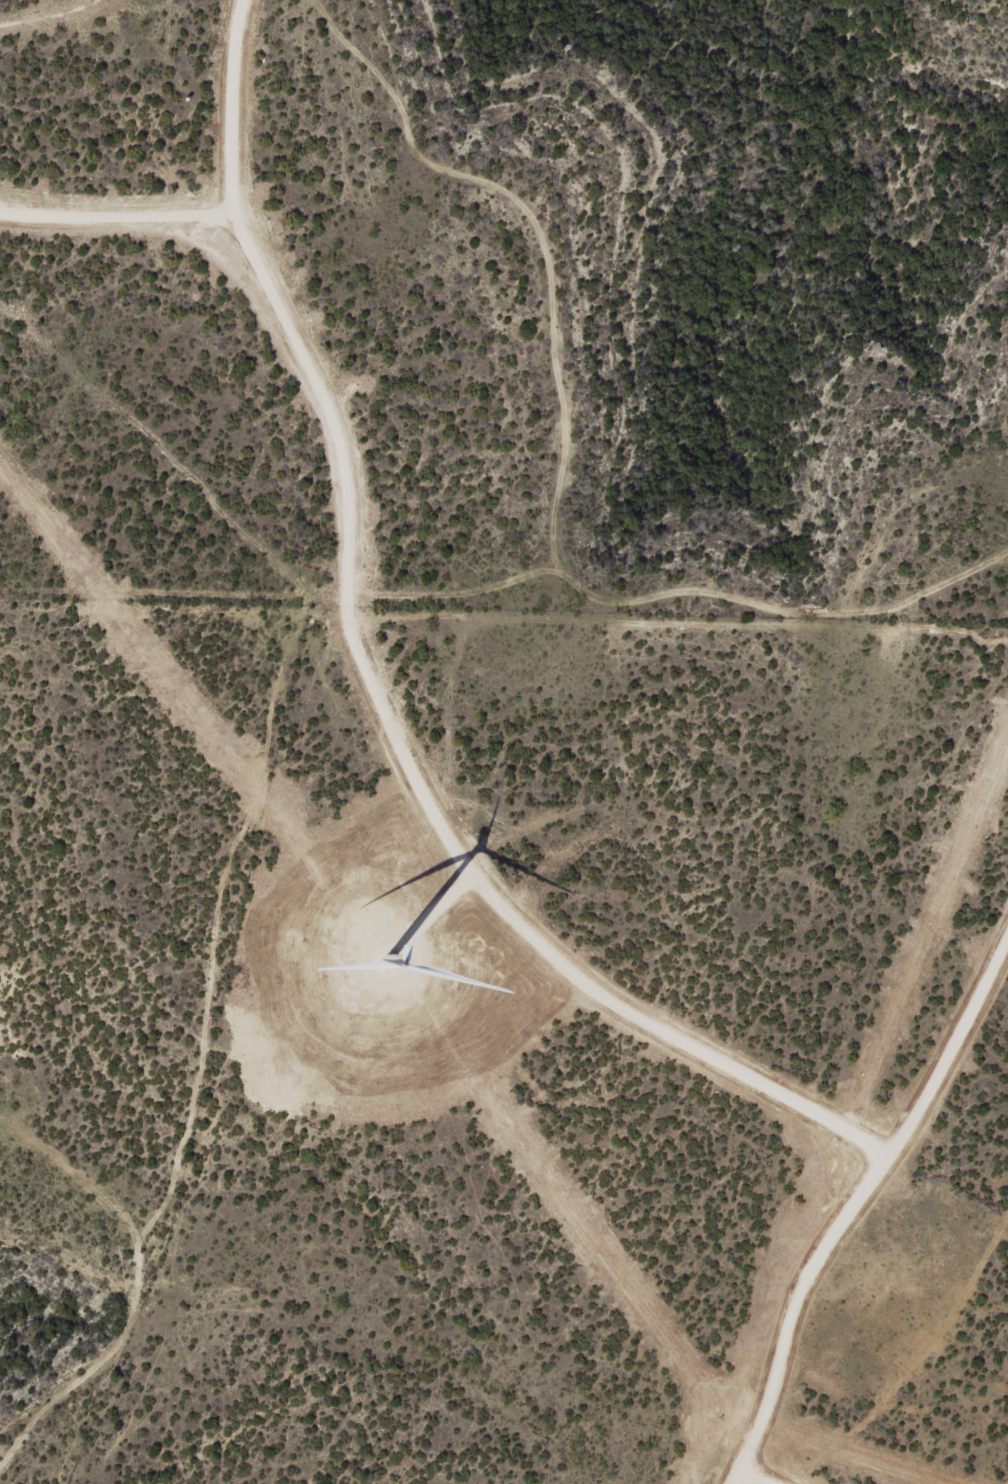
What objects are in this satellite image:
wind turbine: (386, 954)

